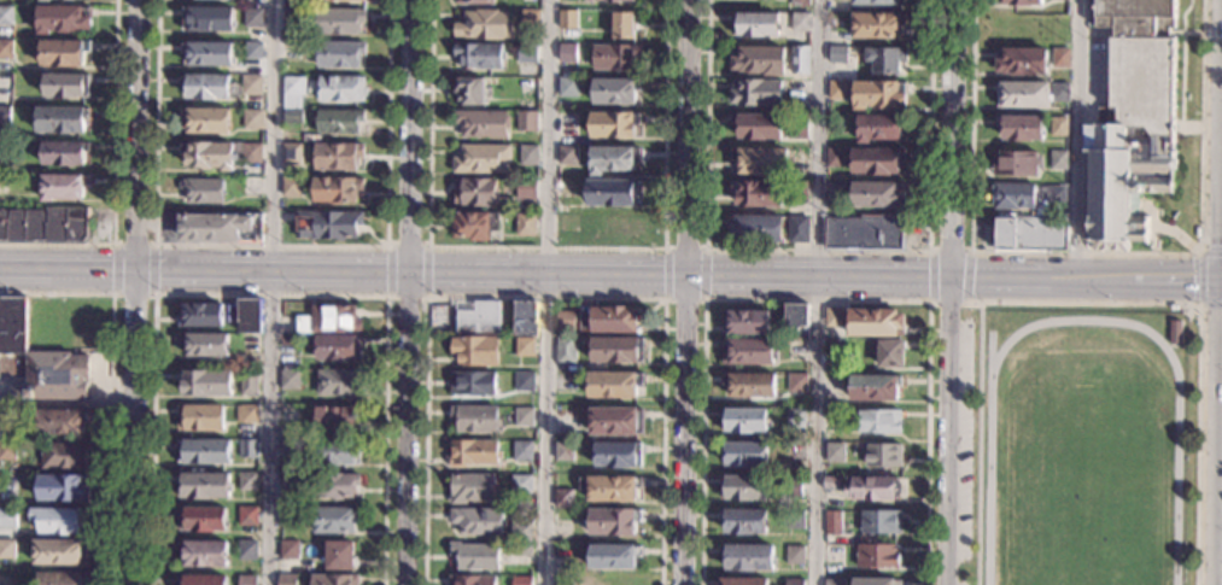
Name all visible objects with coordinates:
building: (43, 0)
building: (66, 0)
building: (187, 0)
building: (364, 0)
building: (840, 0)
building: (1063, 0)
building: (341, 1)
building: (610, 1)
building: (472, 2)
building: (800, 2)
building: (876, 2)
building: (1021, 2)
building: (6, 14)
building: (62, 19)
building: (207, 19)
building: (252, 19)
building: (292, 19)
building: (530, 19)
building: (567, 19)
building: (339, 22)
building: (801, 23)
building: (624, 25)
building: (755, 25)
building: (877, 25)
building: (484, 27)
building: (5, 49)
building: (252, 52)
building: (60, 53)
building: (207, 53)
building: (528, 53)
building: (339, 54)
building: (567, 54)
building: (837, 55)
building: (479, 57)
building: (615, 57)
building: (1060, 58)
building: (800, 60)
building: (885, 60)
building: (760, 62)
building: (1022, 62)
road: (1182, 62)
building: (65, 86)
building: (250, 86)
building: (292, 86)
building: (205, 87)
building: (527, 87)
building: (567, 88)
building: (340, 89)
building: (615, 90)
building: (837, 90)
building: (469, 92)
building: (756, 93)
building: (1059, 93)
building: (878, 95)
building: (1023, 95)
road: (1221, 109)
building: (4, 115)
building: (292, 117)
building: (60, 119)
building: (252, 119)
building: (1132, 121)
building: (205, 122)
building: (338, 122)
building: (526, 122)
building: (481, 124)
building: (613, 124)
building: (1058, 127)
building: (758, 128)
building: (879, 128)
road: (1188, 128)
building: (1022, 129)
road: (135, 134)
road: (410, 135)
road: (951, 139)
road: (1080, 139)
building: (4, 148)
building: (64, 154)
building: (251, 154)
building: (291, 154)
building: (337, 156)
building: (527, 156)
building: (567, 156)
building: (206, 157)
building: (836, 158)
building: (480, 159)
building: (613, 159)
building: (760, 160)
building: (877, 160)
building: (1059, 160)
building: (1016, 163)
road: (112, 177)
building: (5, 185)
building: (250, 186)
building: (64, 187)
building: (291, 187)
building: (335, 189)
building: (525, 189)
building: (797, 191)
building: (203, 192)
building: (835, 192)
building: (474, 193)
building: (613, 194)
building: (758, 194)
building: (1057, 194)
building: (878, 195)
building: (1013, 197)
road: (1220, 221)
road: (1154, 222)
building: (45, 224)
building: (328, 224)
building: (525, 226)
building: (220, 227)
building: (475, 227)
building: (755, 229)
building: (797, 229)
building: (866, 232)
building: (1197, 233)
building: (1031, 234)
road: (1180, 236)
road: (133, 244)
road: (270, 245)
road: (407, 245)
traffic signals: (1220, 245)
road: (545, 247)
road: (684, 247)
road: (819, 252)
road: (949, 253)
road: (1084, 255)
road: (68, 267)
road: (111, 269)
road: (153, 269)
road: (386, 270)
road: (271, 271)
road: (426, 271)
road: (663, 273)
road: (706, 274)
road: (813, 276)
road: (929, 277)
road: (970, 277)
road: (1199, 279)
traffic signals: (1193, 282)
road: (1221, 282)
road: (274, 292)
road: (544, 292)
road: (686, 292)
road: (815, 292)
road: (269, 294)
road: (133, 297)
road: (545, 297)
road: (405, 298)
road: (685, 299)
road: (815, 300)
road: (949, 303)
building: (1174, 308)
building: (84, 311)
building: (200, 314)
building: (233, 314)
building: (249, 316)
building: (835, 316)
building: (479, 318)
building: (525, 318)
building: (584, 318)
building: (328, 320)
building: (614, 320)
building: (565, 321)
building: (796, 321)
building: (747, 322)
building: (27, 323)
building: (875, 323)
road: (1197, 330)
building: (1175, 333)
building: (290, 341)
building: (204, 344)
building: (250, 344)
building: (337, 346)
building: (525, 347)
building: (566, 350)
building: (616, 350)
building: (796, 350)
building: (475, 351)
building: (748, 352)
track: (992, 353)
building: (890, 355)
track: (1173, 362)
building: (55, 376)
building: (288, 380)
building: (524, 381)
building: (566, 381)
building: (205, 382)
building: (249, 382)
building: (340, 384)
building: (473, 384)
building: (750, 384)
building: (797, 384)
road: (110, 385)
building: (614, 385)
building: (834, 387)
building: (875, 388)
road: (66, 404)
building: (247, 414)
building: (524, 417)
building: (199, 419)
building: (335, 419)
building: (475, 419)
building: (795, 420)
building: (7, 421)
building: (616, 421)
building: (746, 421)
building: (879, 421)
building: (62, 422)
road: (133, 426)
road: (407, 428)
road: (949, 432)
road: (1217, 433)
road: (978, 444)
building: (288, 447)
building: (247, 449)
building: (6, 451)
building: (204, 451)
building: (335, 451)
building: (522, 451)
building: (563, 451)
parking lot: (965, 451)
building: (473, 454)
building: (835, 454)
building: (618, 455)
building: (746, 455)
building: (884, 455)
building: (63, 456)
track: (989, 479)
building: (247, 482)
building: (521, 484)
building: (831, 484)
park: (1086, 485)
building: (203, 486)
building: (288, 486)
building: (334, 486)
building: (62, 487)
building: (744, 487)
building: (793, 487)
building: (472, 489)
building: (610, 489)
building: (873, 489)
building: (563, 498)
building: (247, 516)
building: (287, 516)
building: (7, 519)
building: (59, 520)
building: (201, 520)
building: (334, 520)
building: (795, 520)
building: (476, 521)
building: (610, 521)
building: (744, 522)
building: (832, 522)
building: (881, 522)
building: (520, 532)
building: (7, 549)
building: (246, 550)
building: (521, 550)
building: (288, 551)
building: (60, 552)
building: (204, 554)
building: (834, 554)
building: (877, 555)
building: (339, 556)
building: (475, 556)
building: (613, 556)
building: (795, 556)
building: (748, 558)
building: (62, 579)
building: (201, 580)
building: (246, 580)
building: (287, 580)
building: (334, 580)
building: (470, 580)
building: (521, 581)
building: (609, 581)
building: (743, 581)
building: (794, 581)
building: (876, 581)
building: (831, 583)

